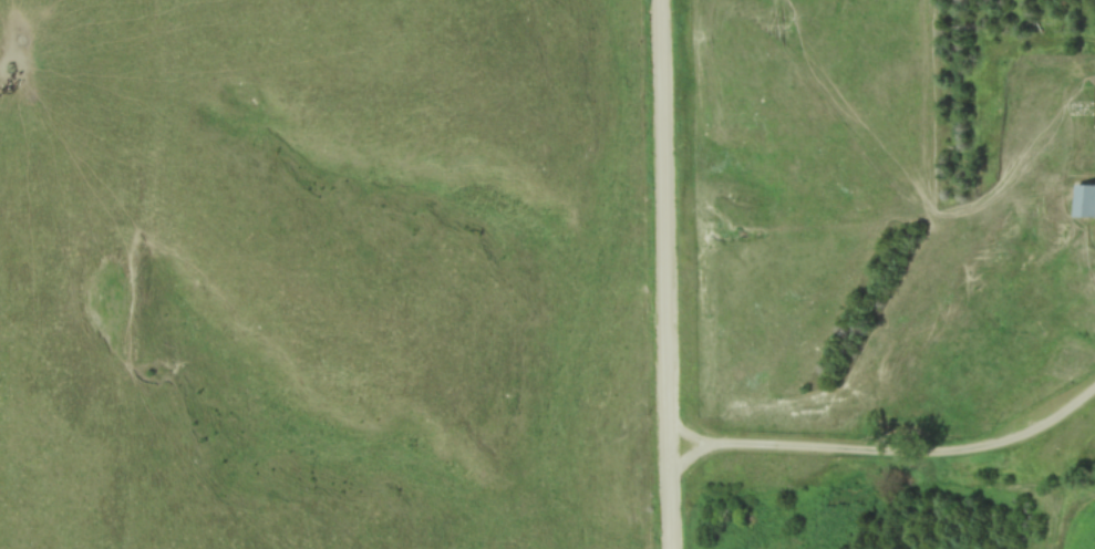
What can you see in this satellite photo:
building: (1084, 203)
road: (664, 274)
road: (889, 450)

